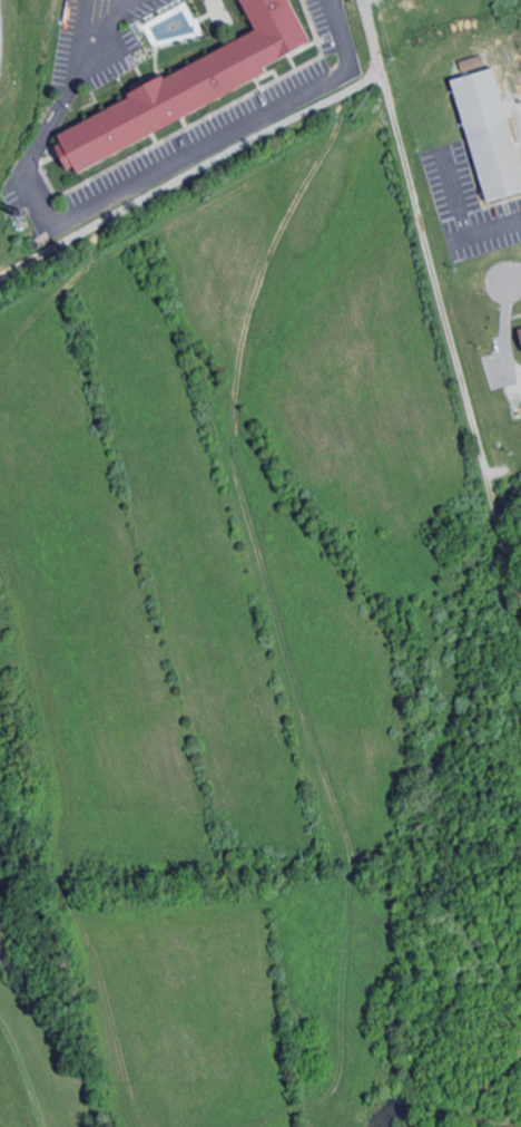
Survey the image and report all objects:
road: (134, 2)
road: (82, 30)
building: (196, 86)
building: (482, 135)
road: (454, 193)
road: (116, 194)
road: (485, 231)
road: (513, 278)
road: (441, 304)
road: (505, 329)
building: (518, 337)

